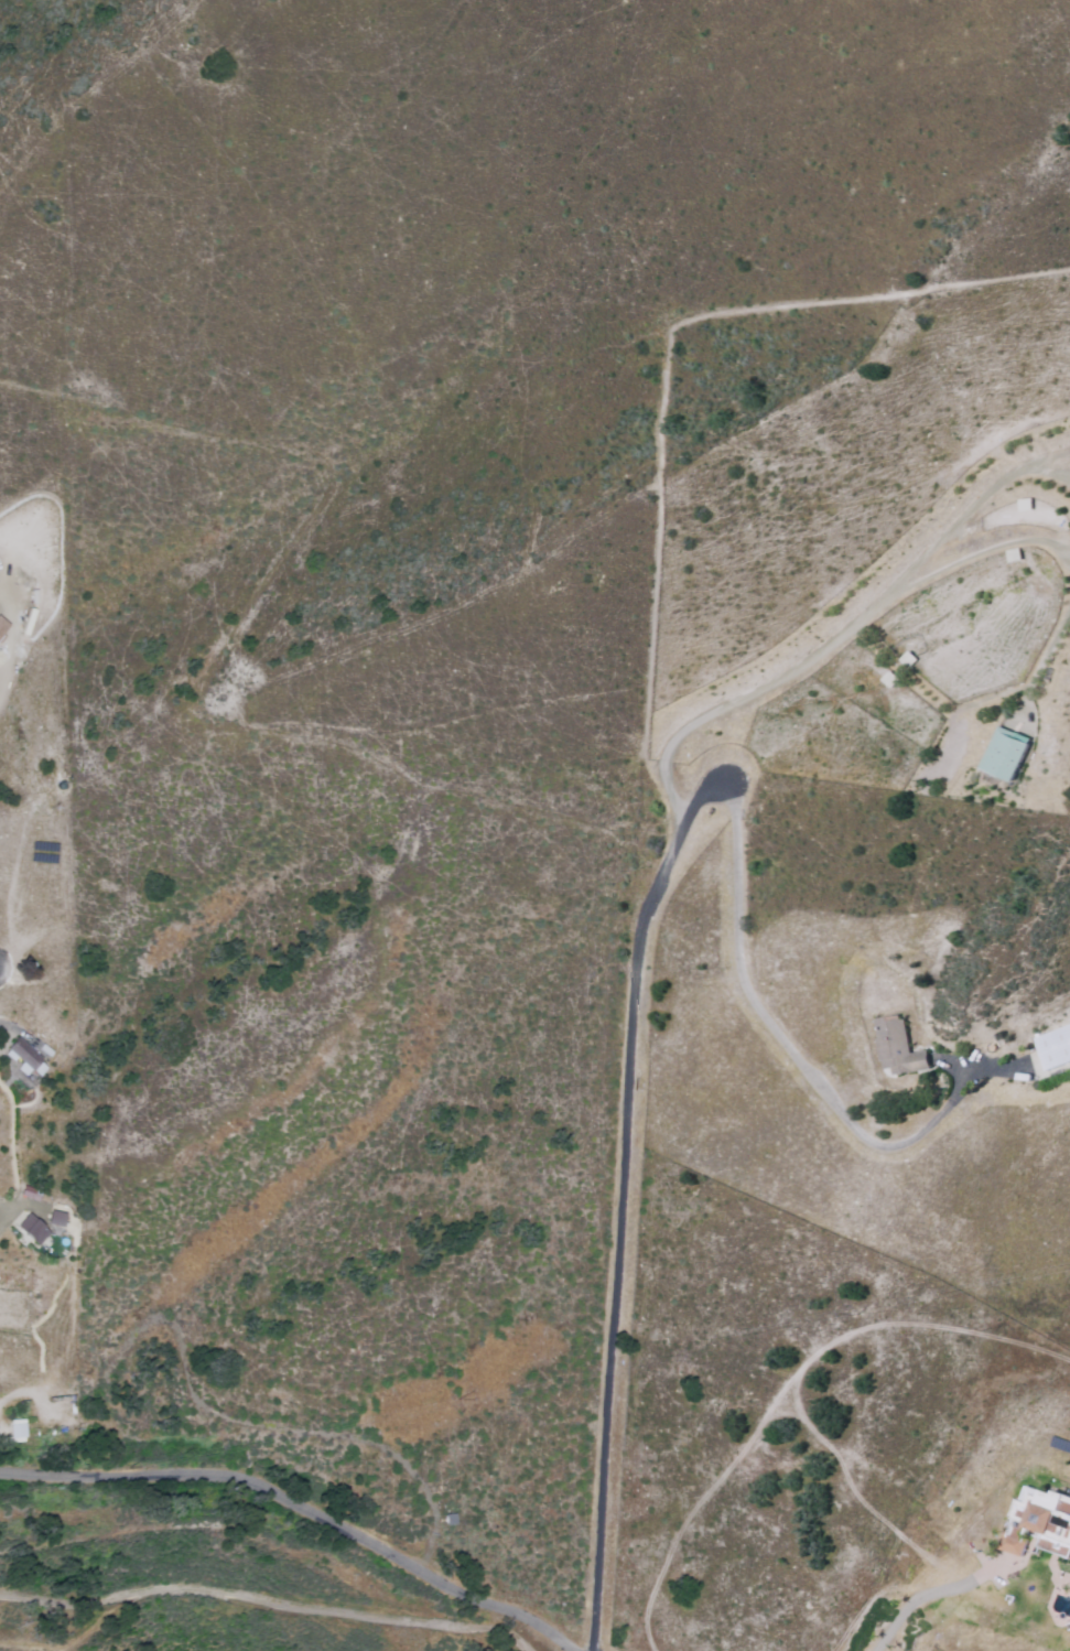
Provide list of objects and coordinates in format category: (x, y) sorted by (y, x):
building: (1003, 753)
building: (1055, 1046)
building: (897, 1047)
building: (24, 1058)
road: (541, 1191)
building: (54, 1218)
building: (30, 1229)
building: (18, 1428)
road: (302, 1504)
building: (1039, 1521)
road: (273, 1544)

